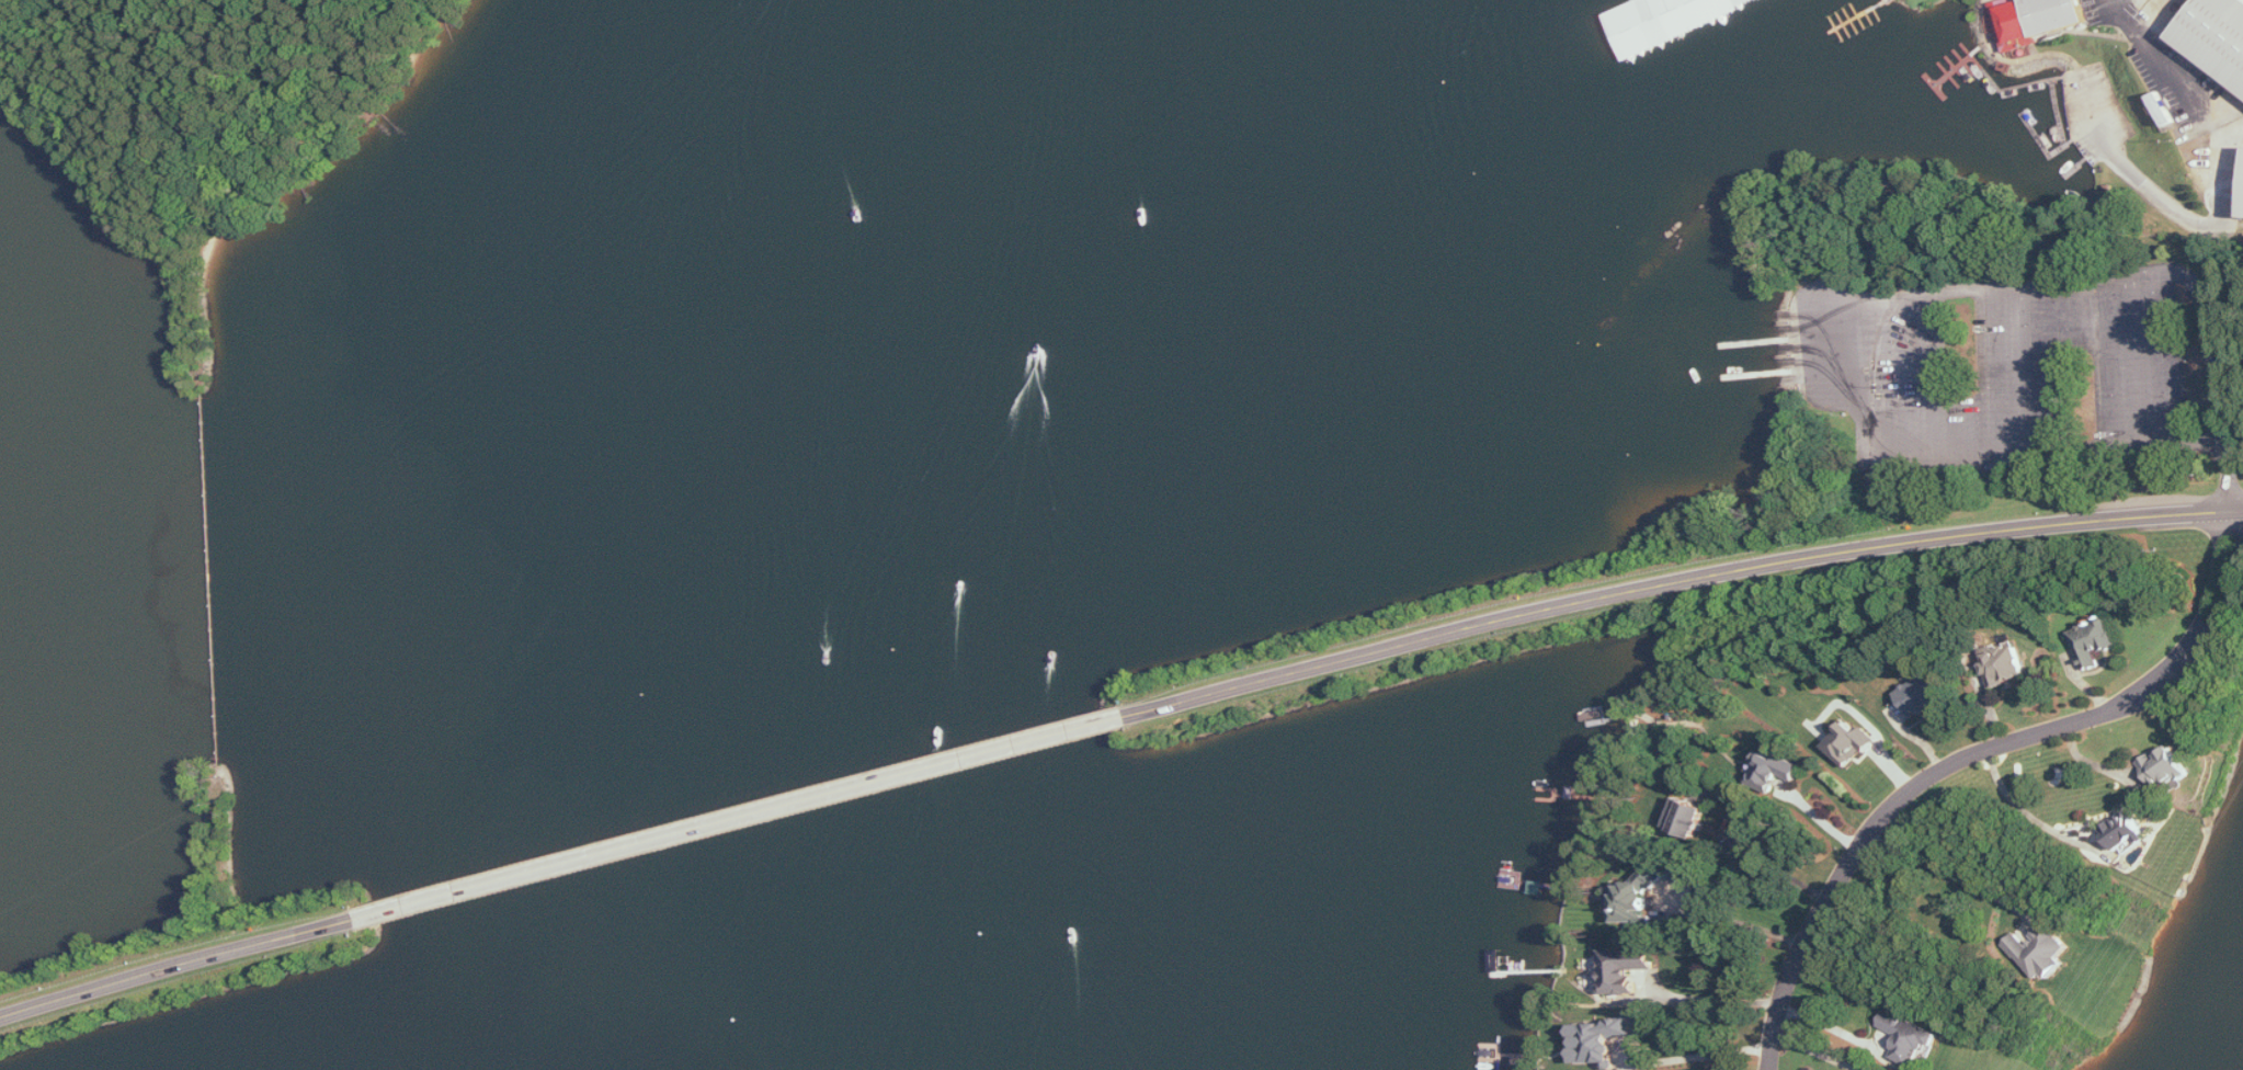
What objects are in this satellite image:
building: (2040, 20)
building: (2218, 37)
road: (2154, 53)
road: (2106, 278)
park: (1991, 338)
road: (1818, 360)
road: (2141, 360)
road: (2020, 371)
road: (1939, 377)
road: (1965, 458)
road: (2231, 476)
road: (2111, 521)
river: (798, 522)
road: (1555, 603)
building: (2095, 642)
building: (2005, 665)
building: (1923, 694)
road: (1882, 742)
building: (1851, 744)
road: (1978, 758)
road: (2095, 763)
building: (2164, 767)
building: (1777, 769)
road: (745, 816)
road: (2031, 816)
building: (1689, 819)
road: (1821, 820)
building: (2127, 834)
road: (1776, 868)
road: (1954, 874)
building: (1636, 898)
road: (1738, 923)
building: (2041, 952)
road: (175, 966)
building: (1624, 971)
road: (1718, 997)
road: (1835, 1027)
building: (1599, 1041)
building: (1913, 1043)
road: (1818, 1050)
road: (1704, 1057)

